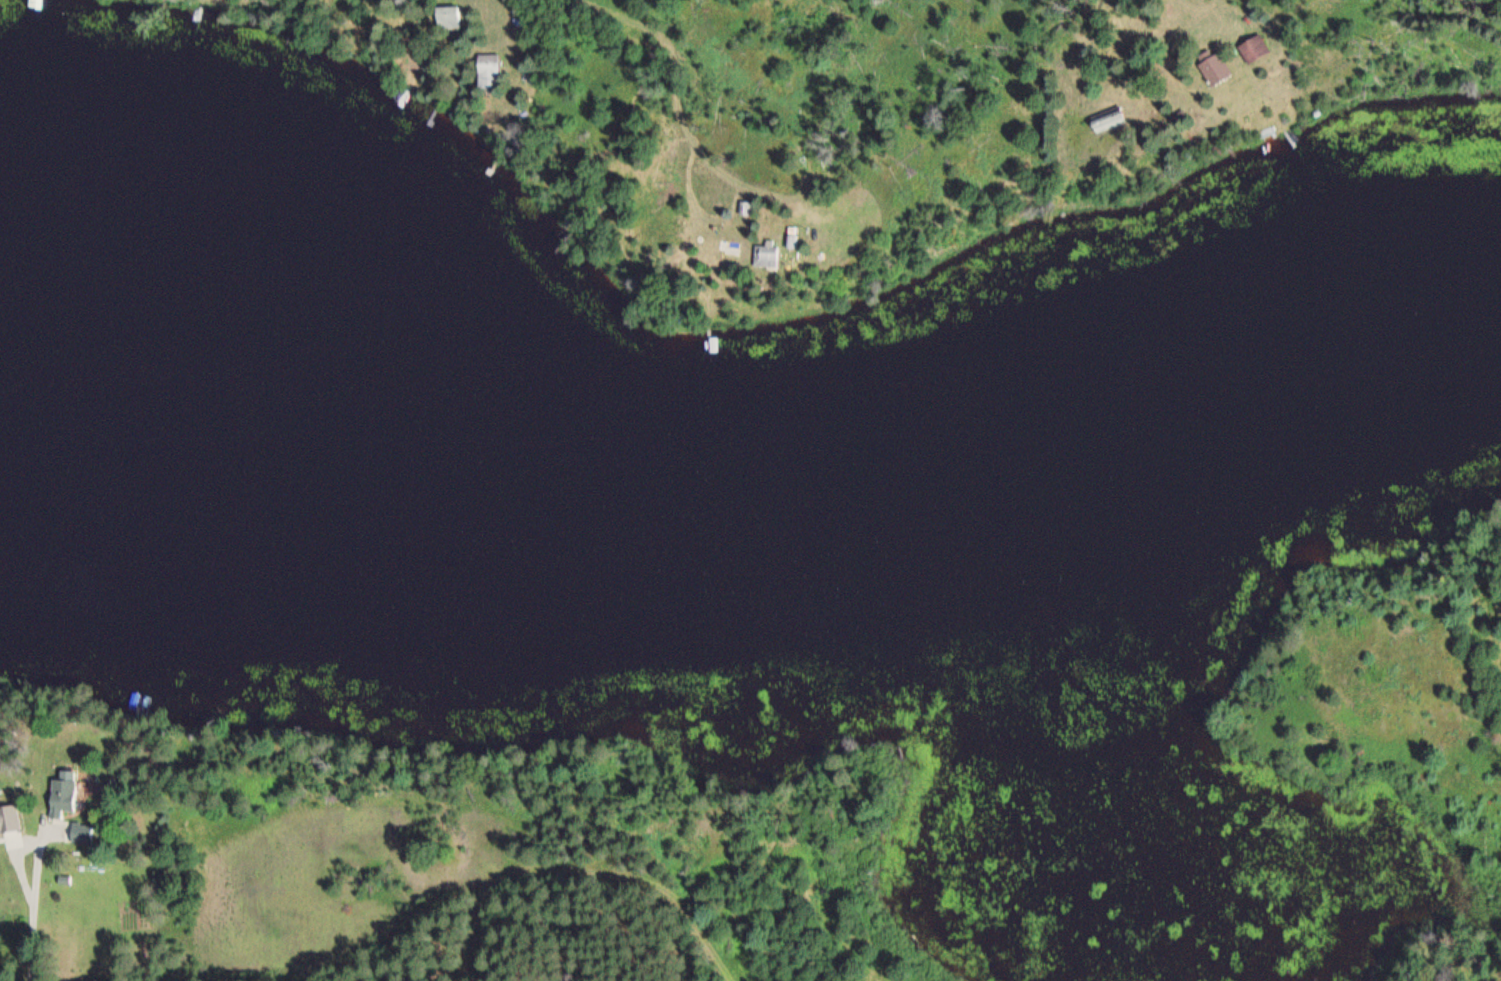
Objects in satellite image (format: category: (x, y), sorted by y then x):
building: (449, 17)
building: (1254, 49)
road: (692, 58)
building: (1216, 69)
building: (489, 70)
building: (1110, 119)
building: (730, 247)
building: (767, 255)
building: (65, 794)
building: (9, 816)

